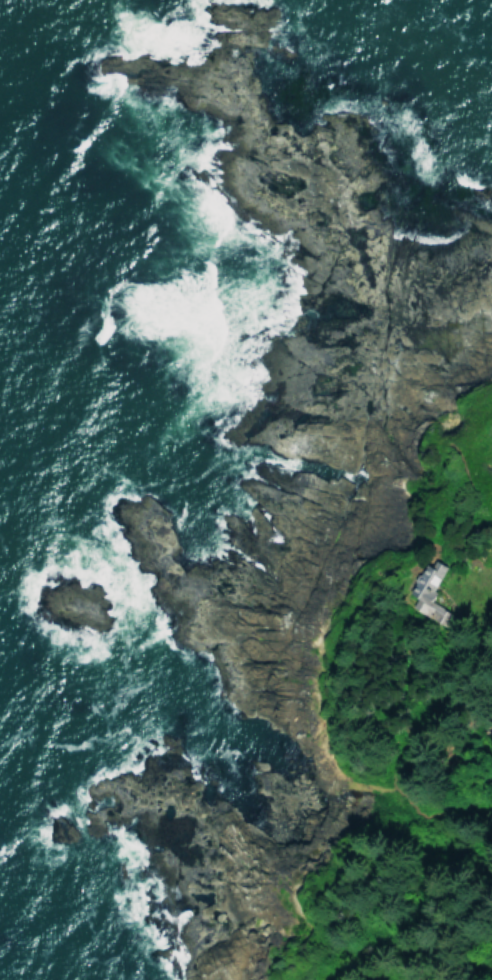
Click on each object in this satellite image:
road: (490, 641)

